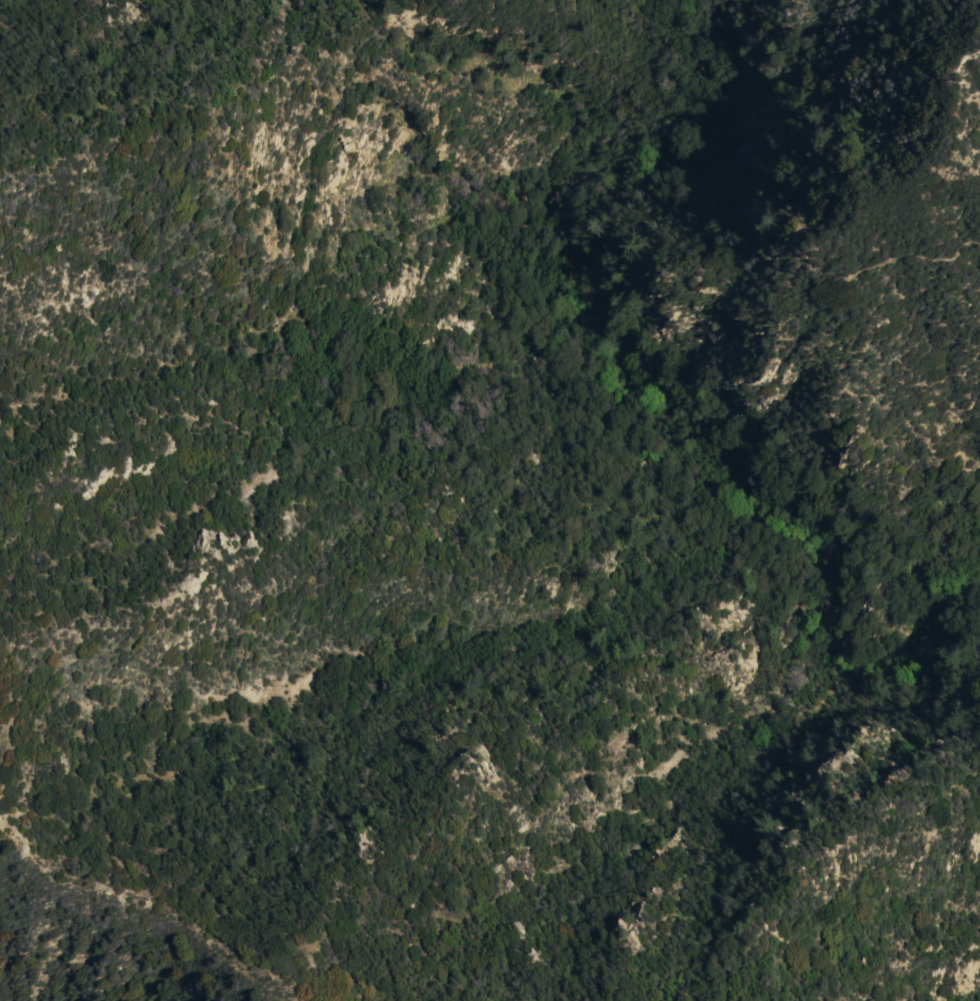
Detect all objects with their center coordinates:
road: (823, 211)

